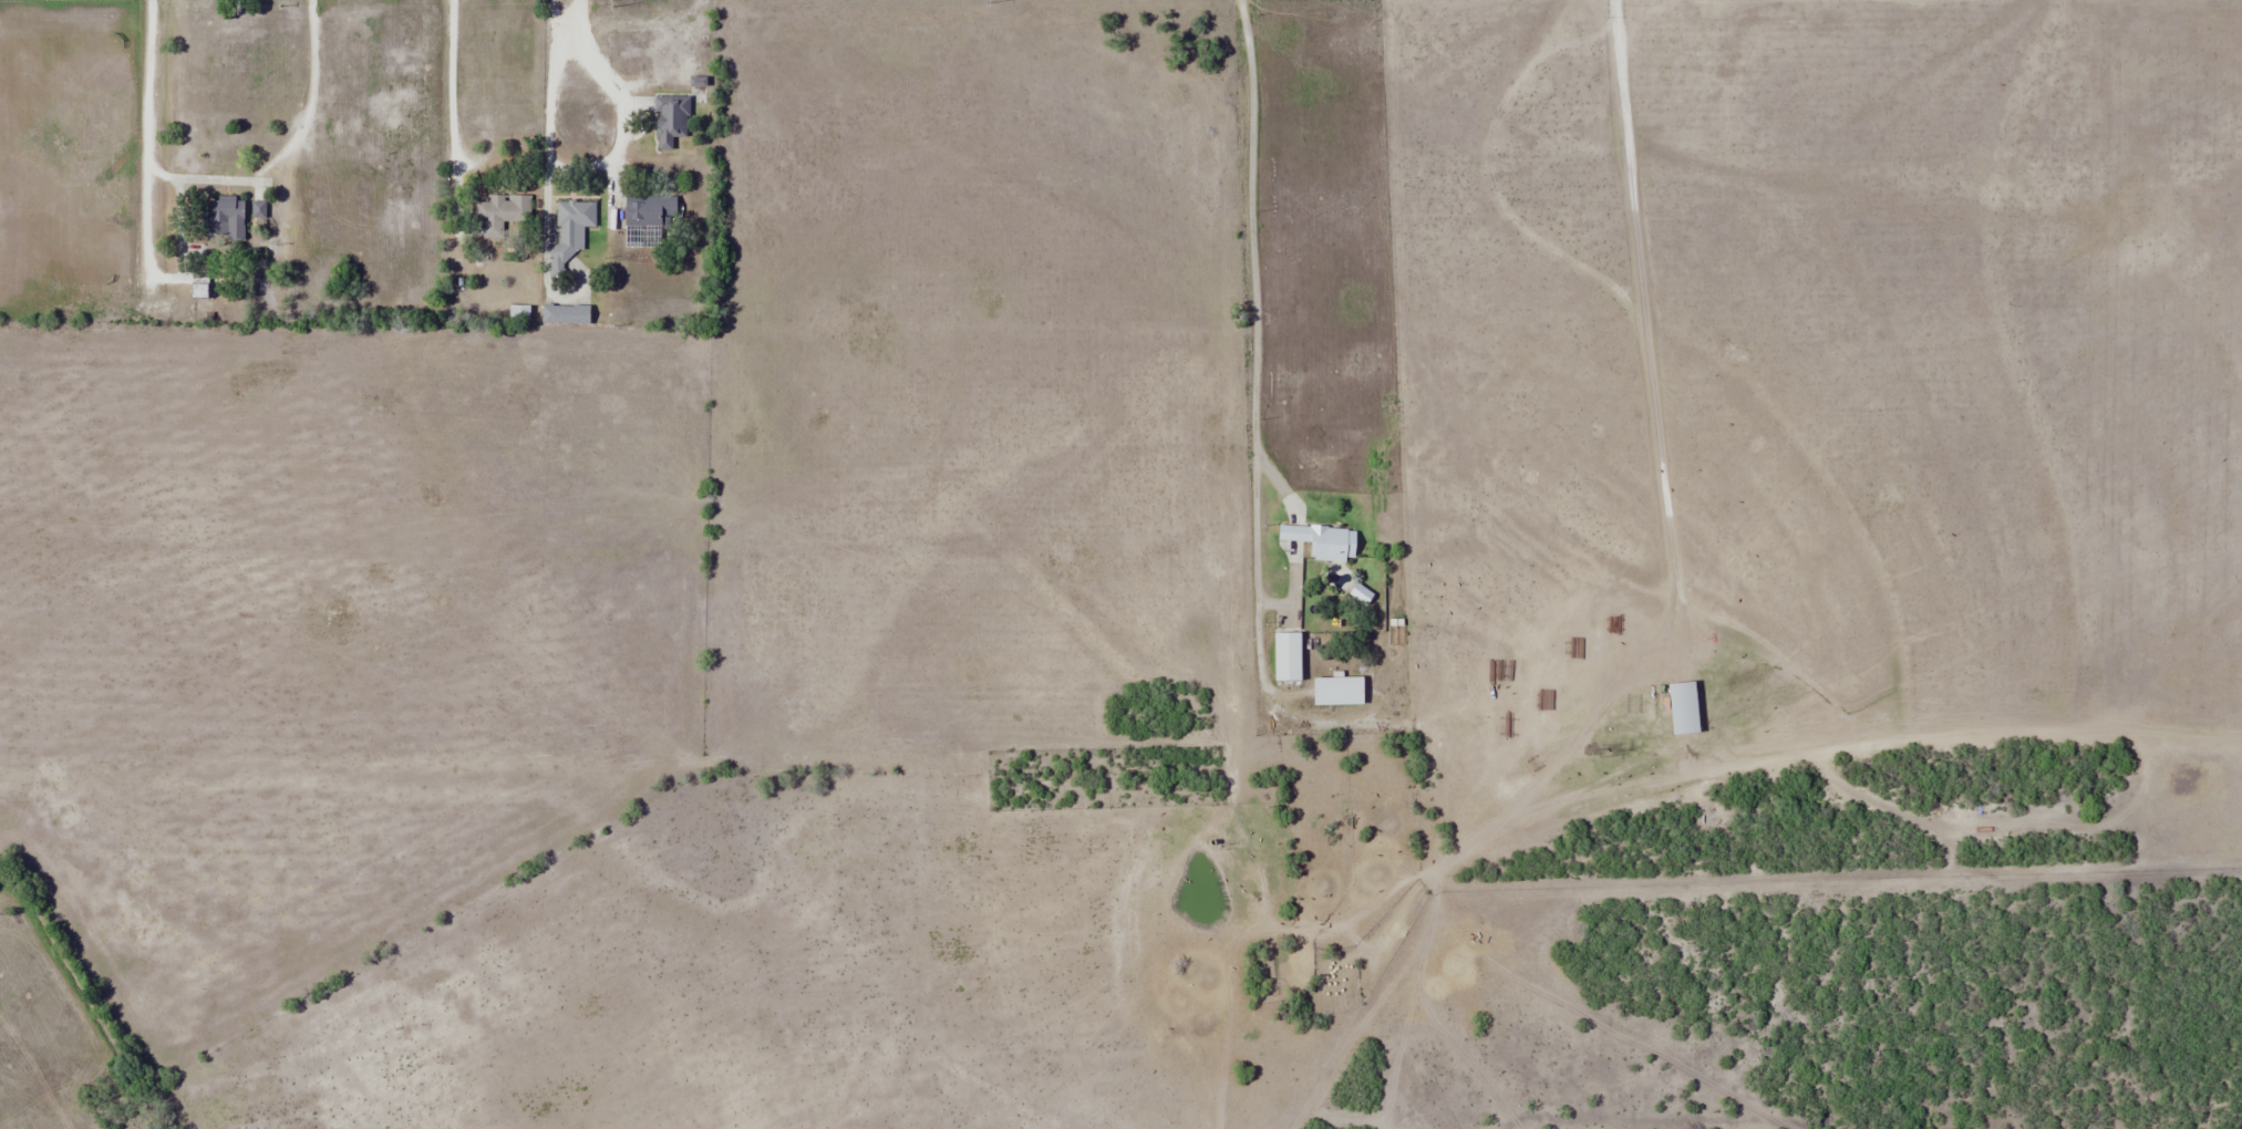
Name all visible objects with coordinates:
power tower: (609, 2)
power tower: (238, 7)
road: (581, 12)
road: (453, 84)
building: (670, 120)
road: (595, 155)
road: (219, 174)
building: (259, 209)
building: (503, 210)
building: (225, 218)
building: (570, 229)
building: (199, 284)
building: (565, 313)
road: (1254, 406)
building: (1323, 541)
building: (1288, 656)
building: (1337, 691)
park: (59, 1032)

